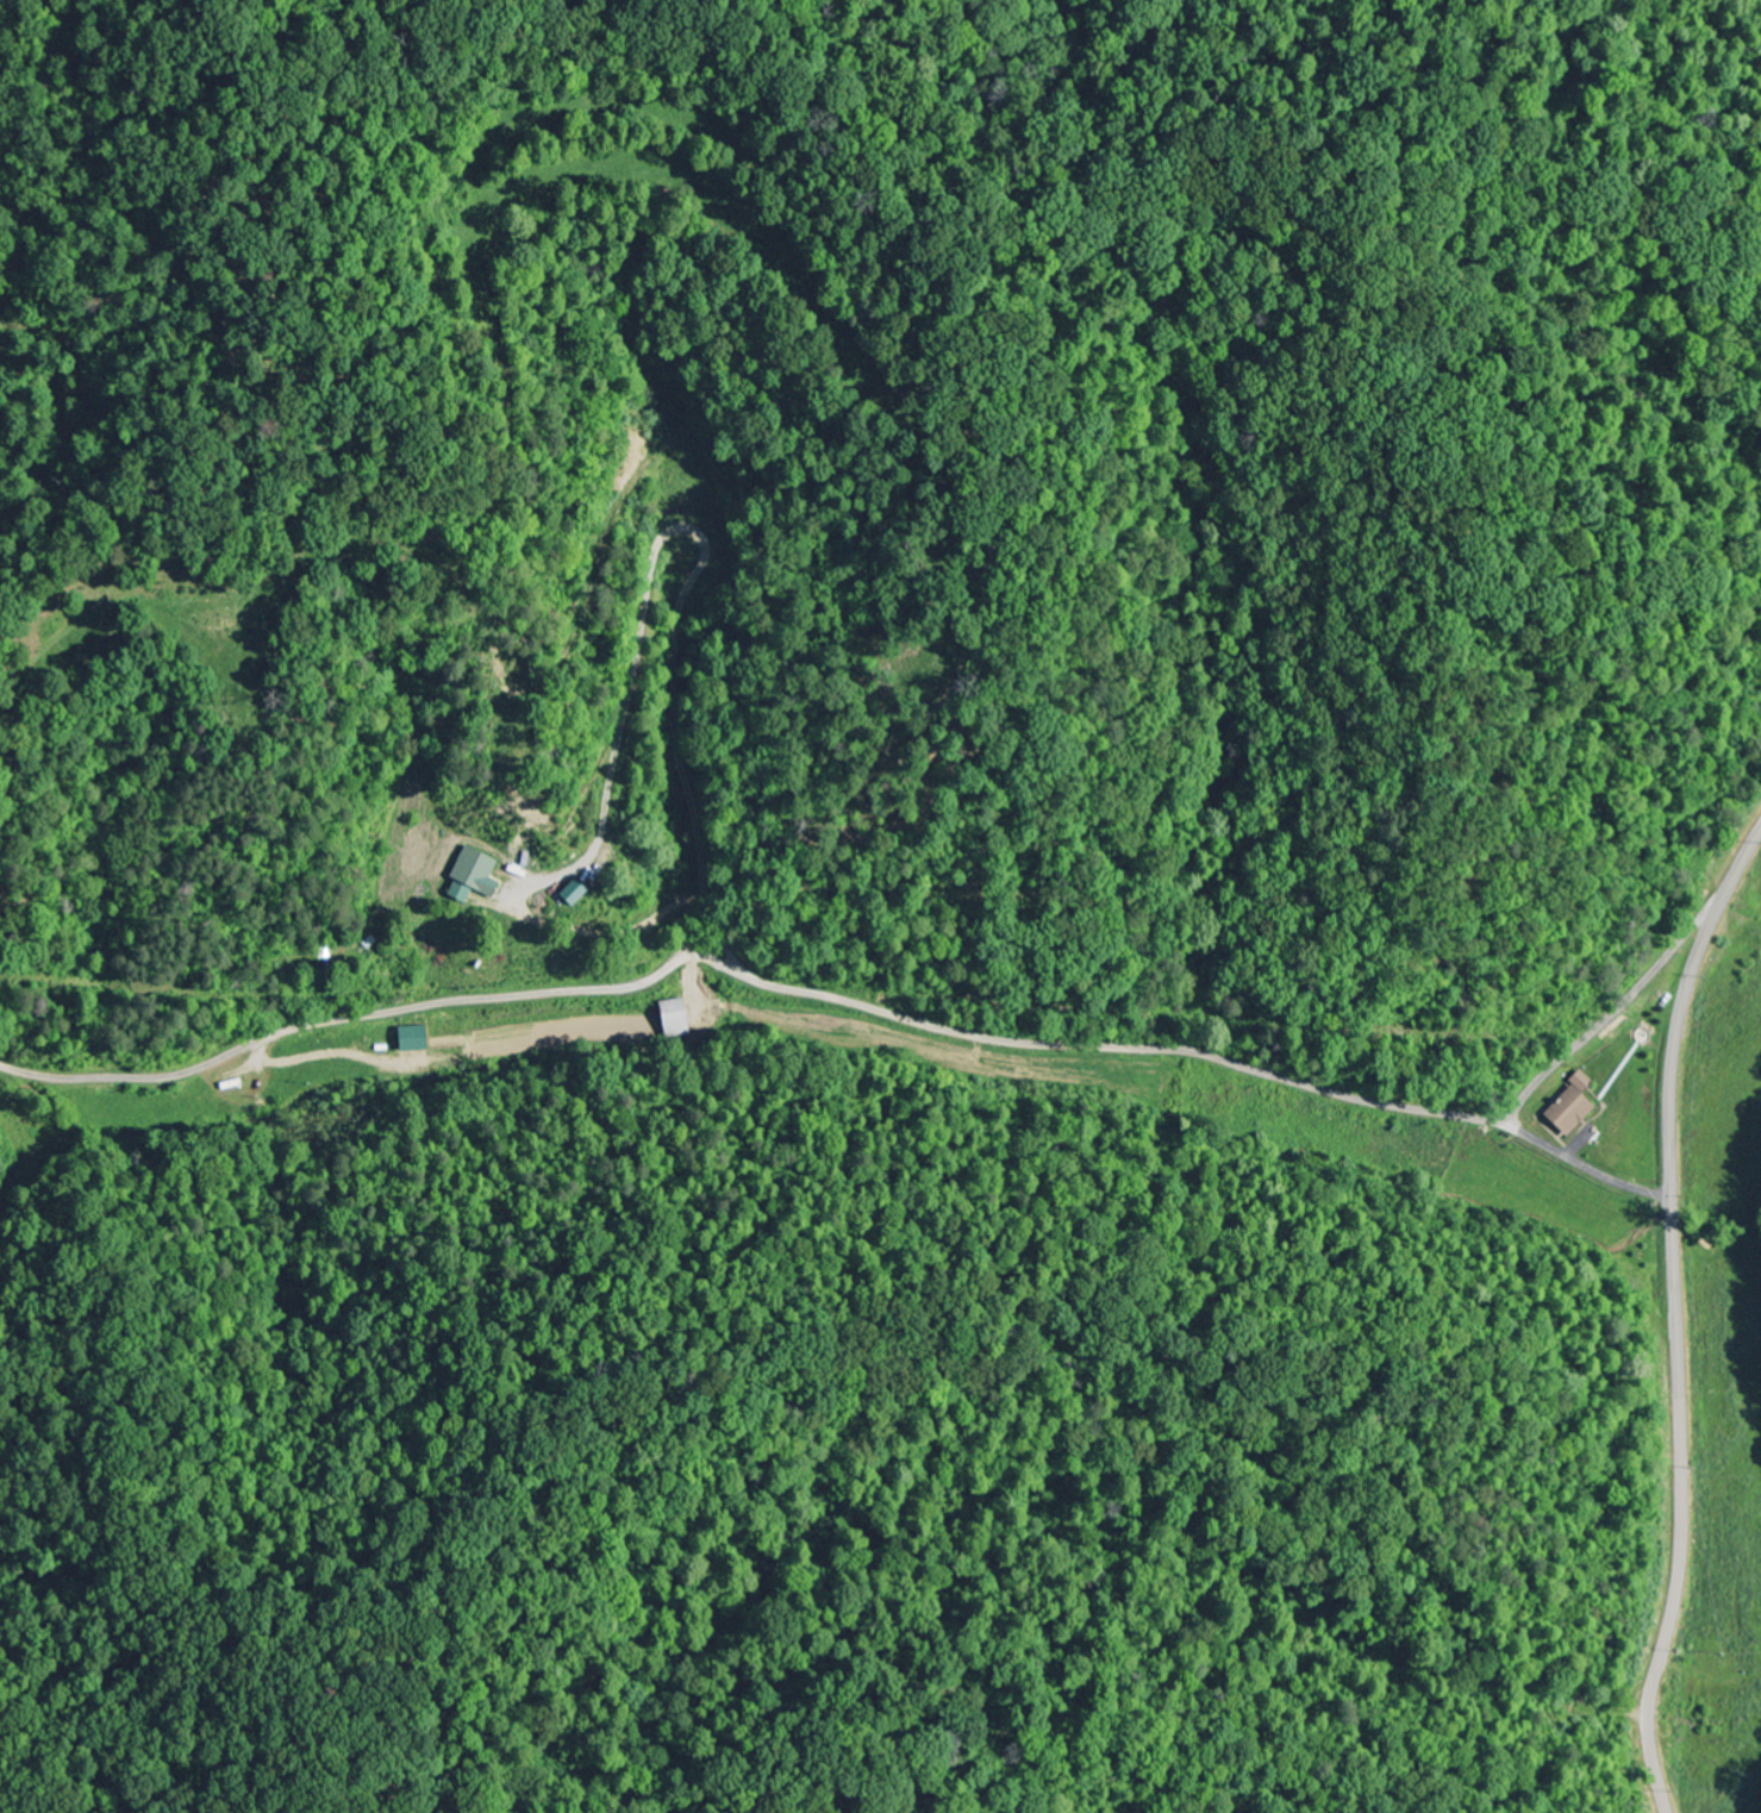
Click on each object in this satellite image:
road: (908, 807)
building: (479, 876)
building: (581, 893)
building: (680, 1015)
road: (908, 1018)
building: (420, 1039)
building: (1578, 1081)
building: (1566, 1112)
road: (1586, 1155)
road: (1675, 1315)

